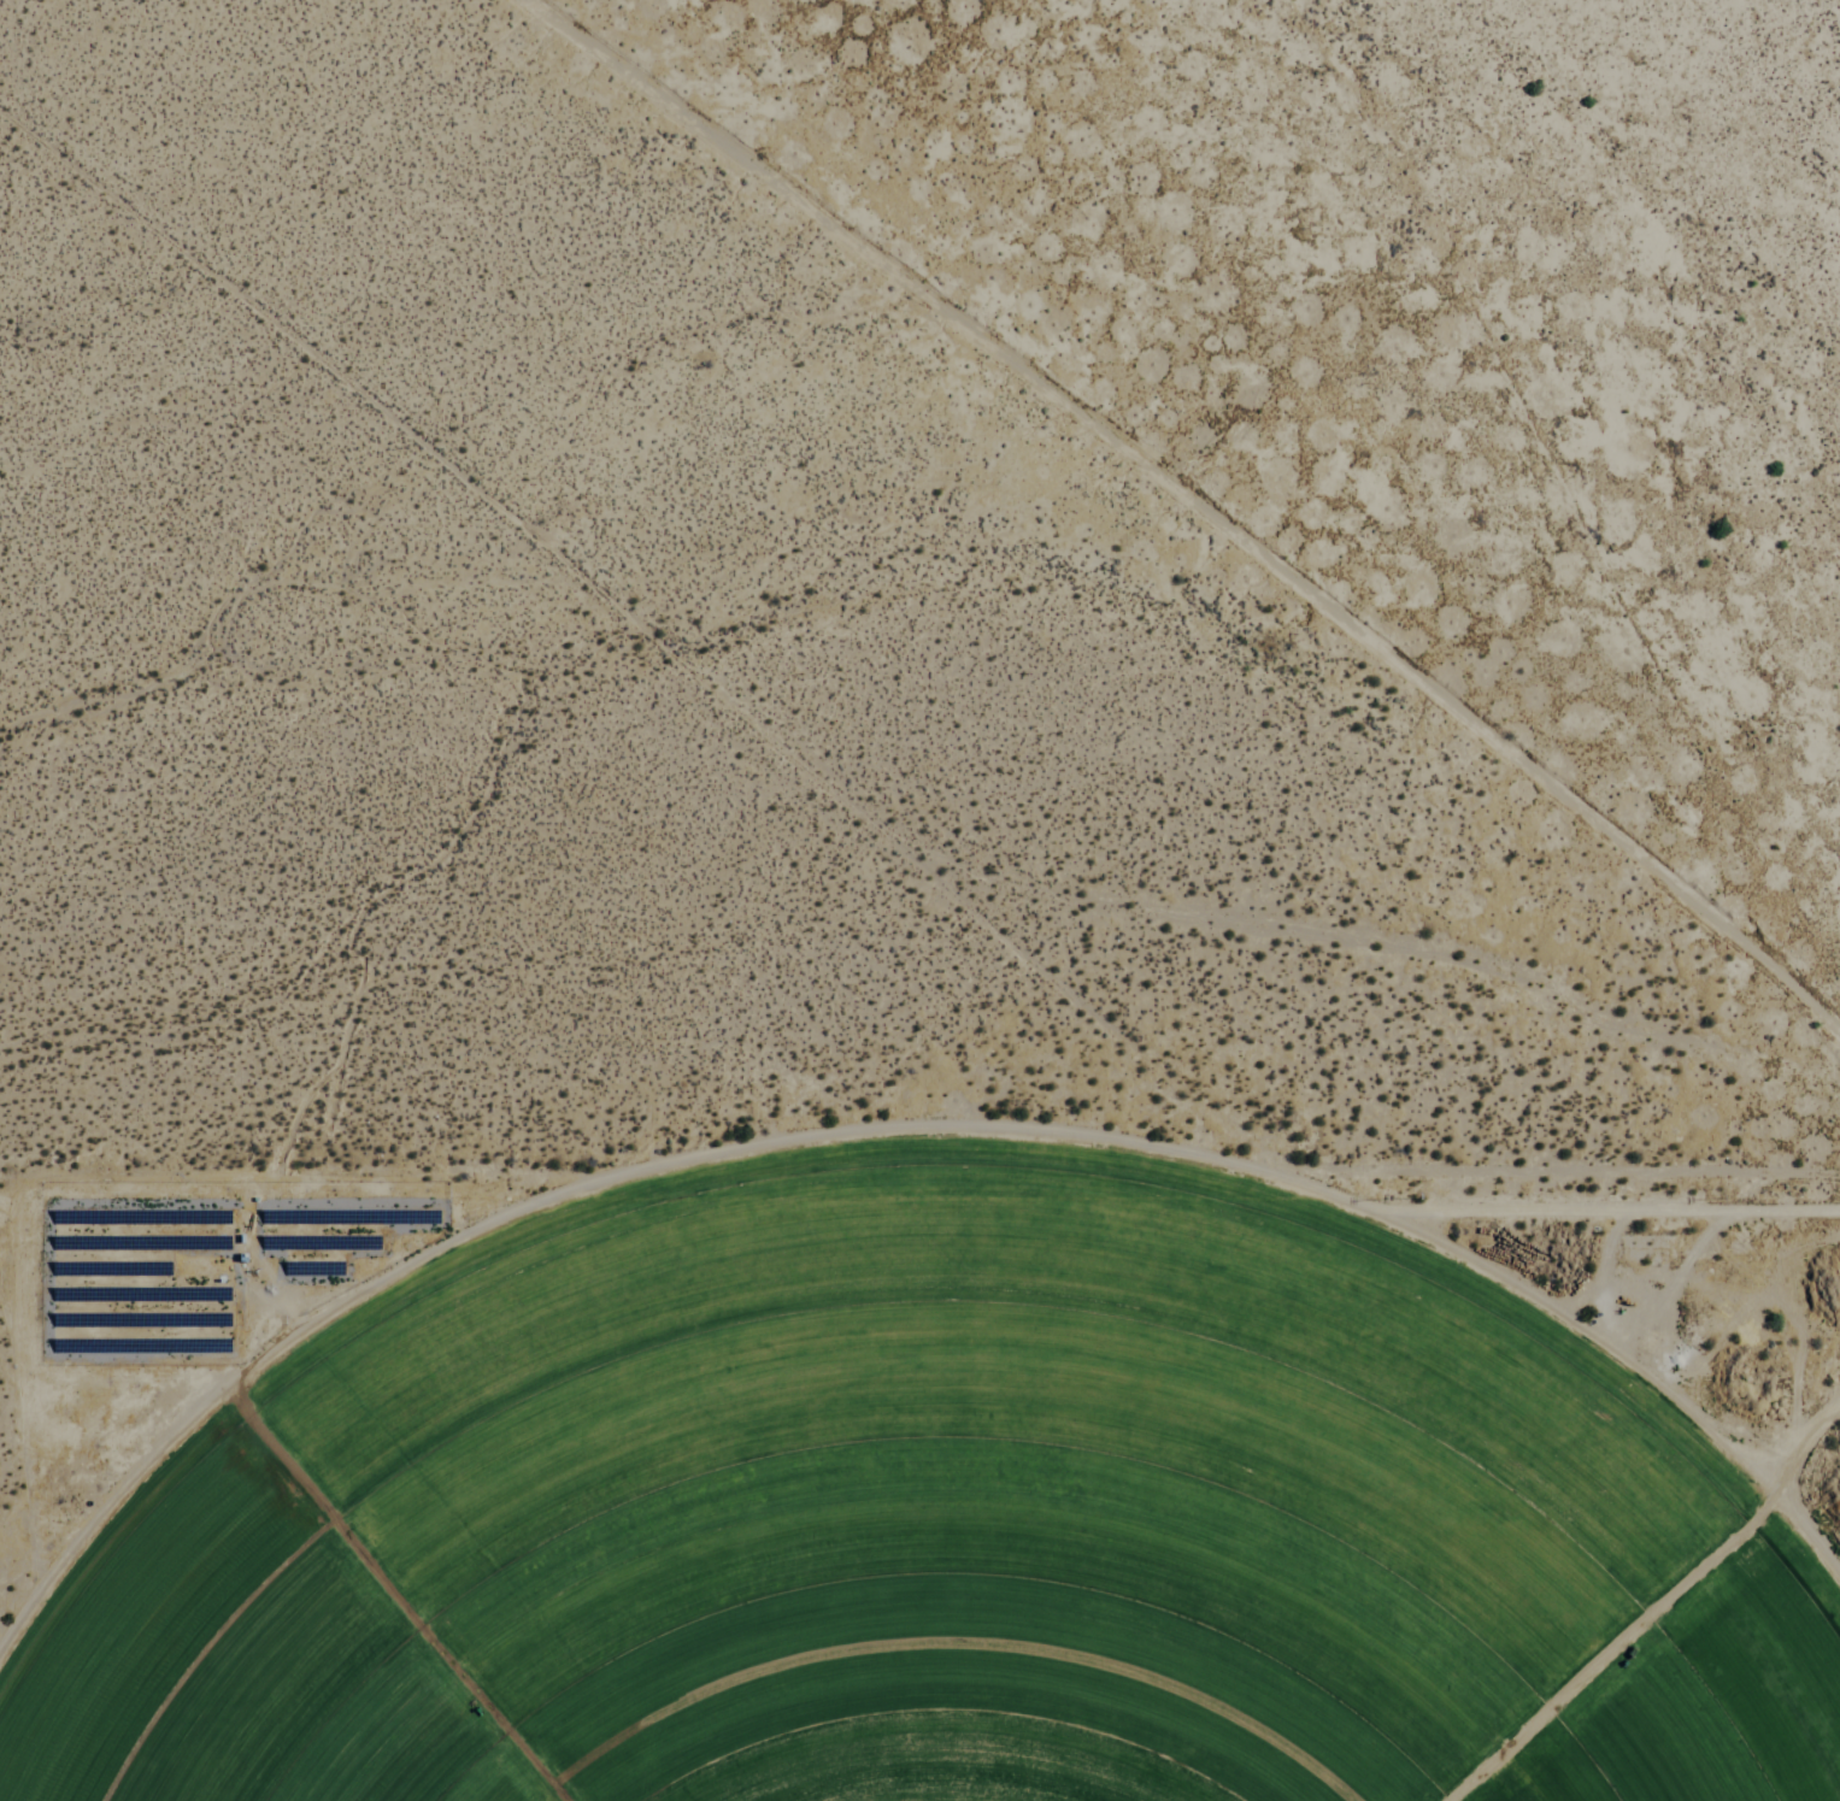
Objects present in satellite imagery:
road: (1201, 499)
crop: (918, 1523)

